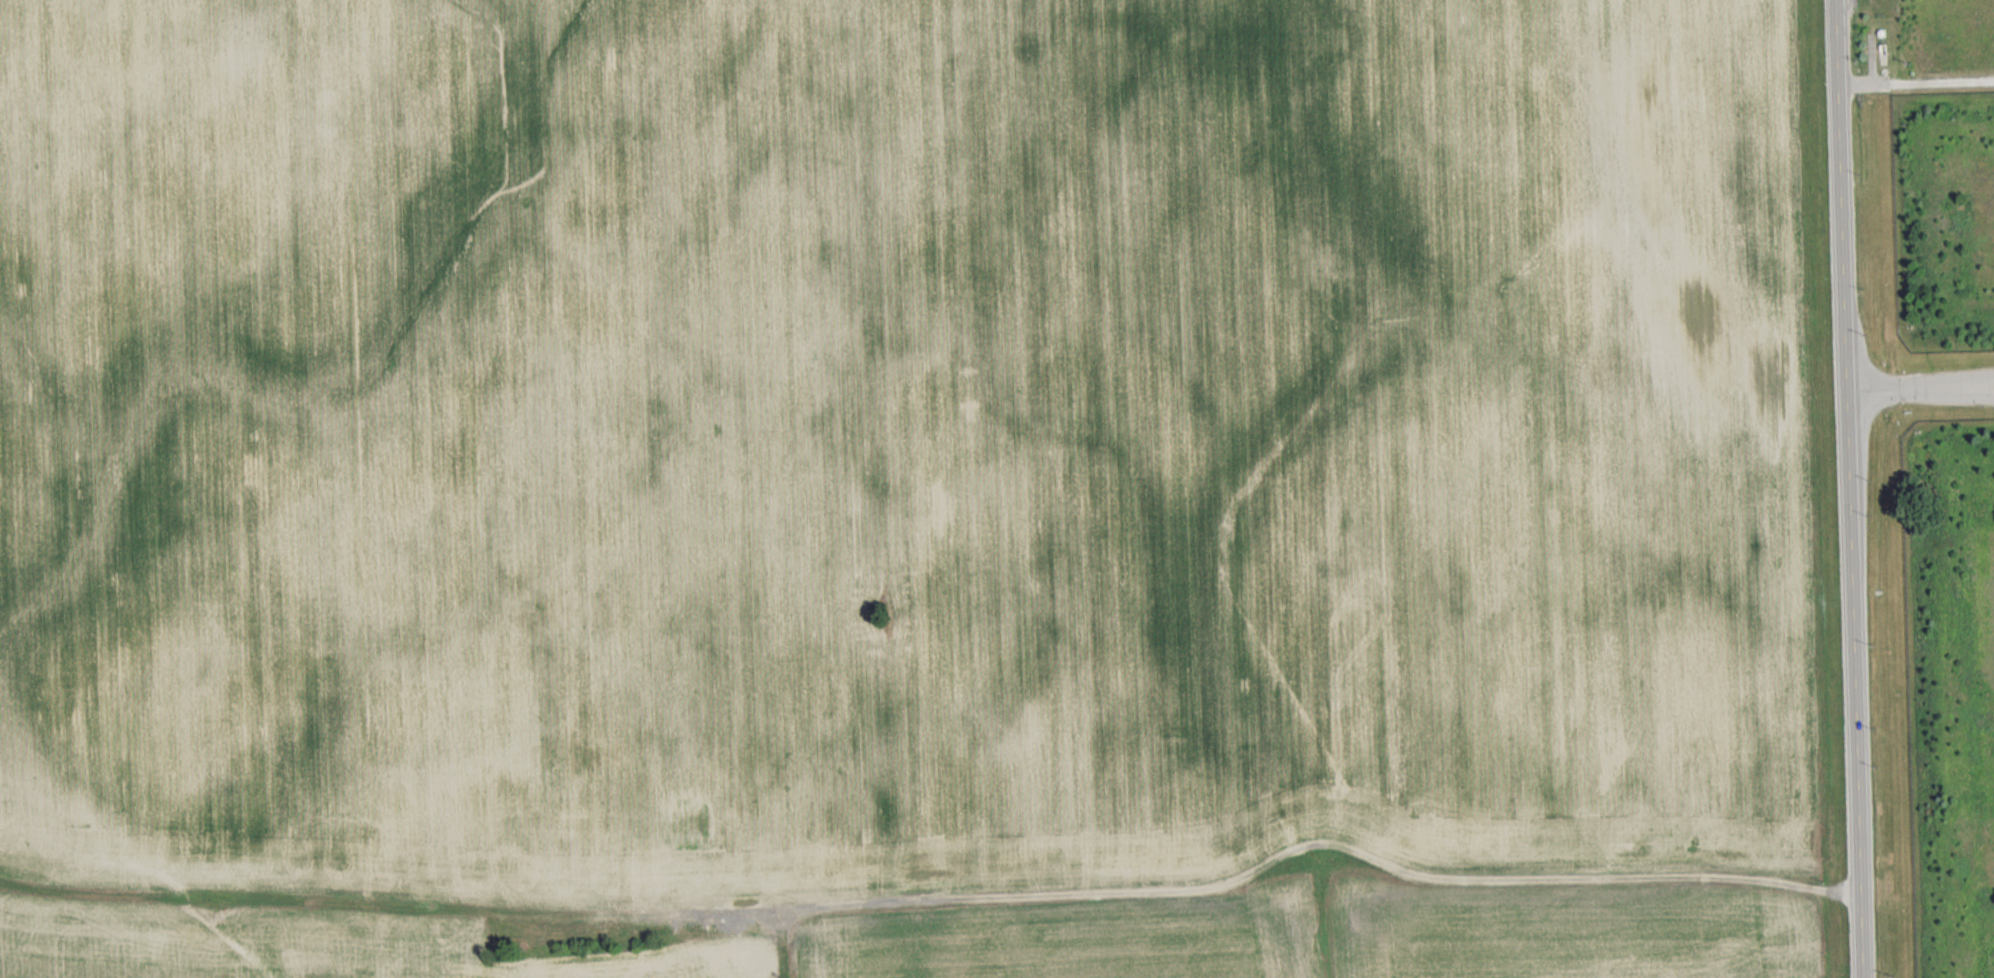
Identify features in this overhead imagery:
road: (1877, 61)
road: (1916, 84)
road: (1842, 200)
road: (1920, 379)
road: (1920, 394)
road: (1854, 689)

